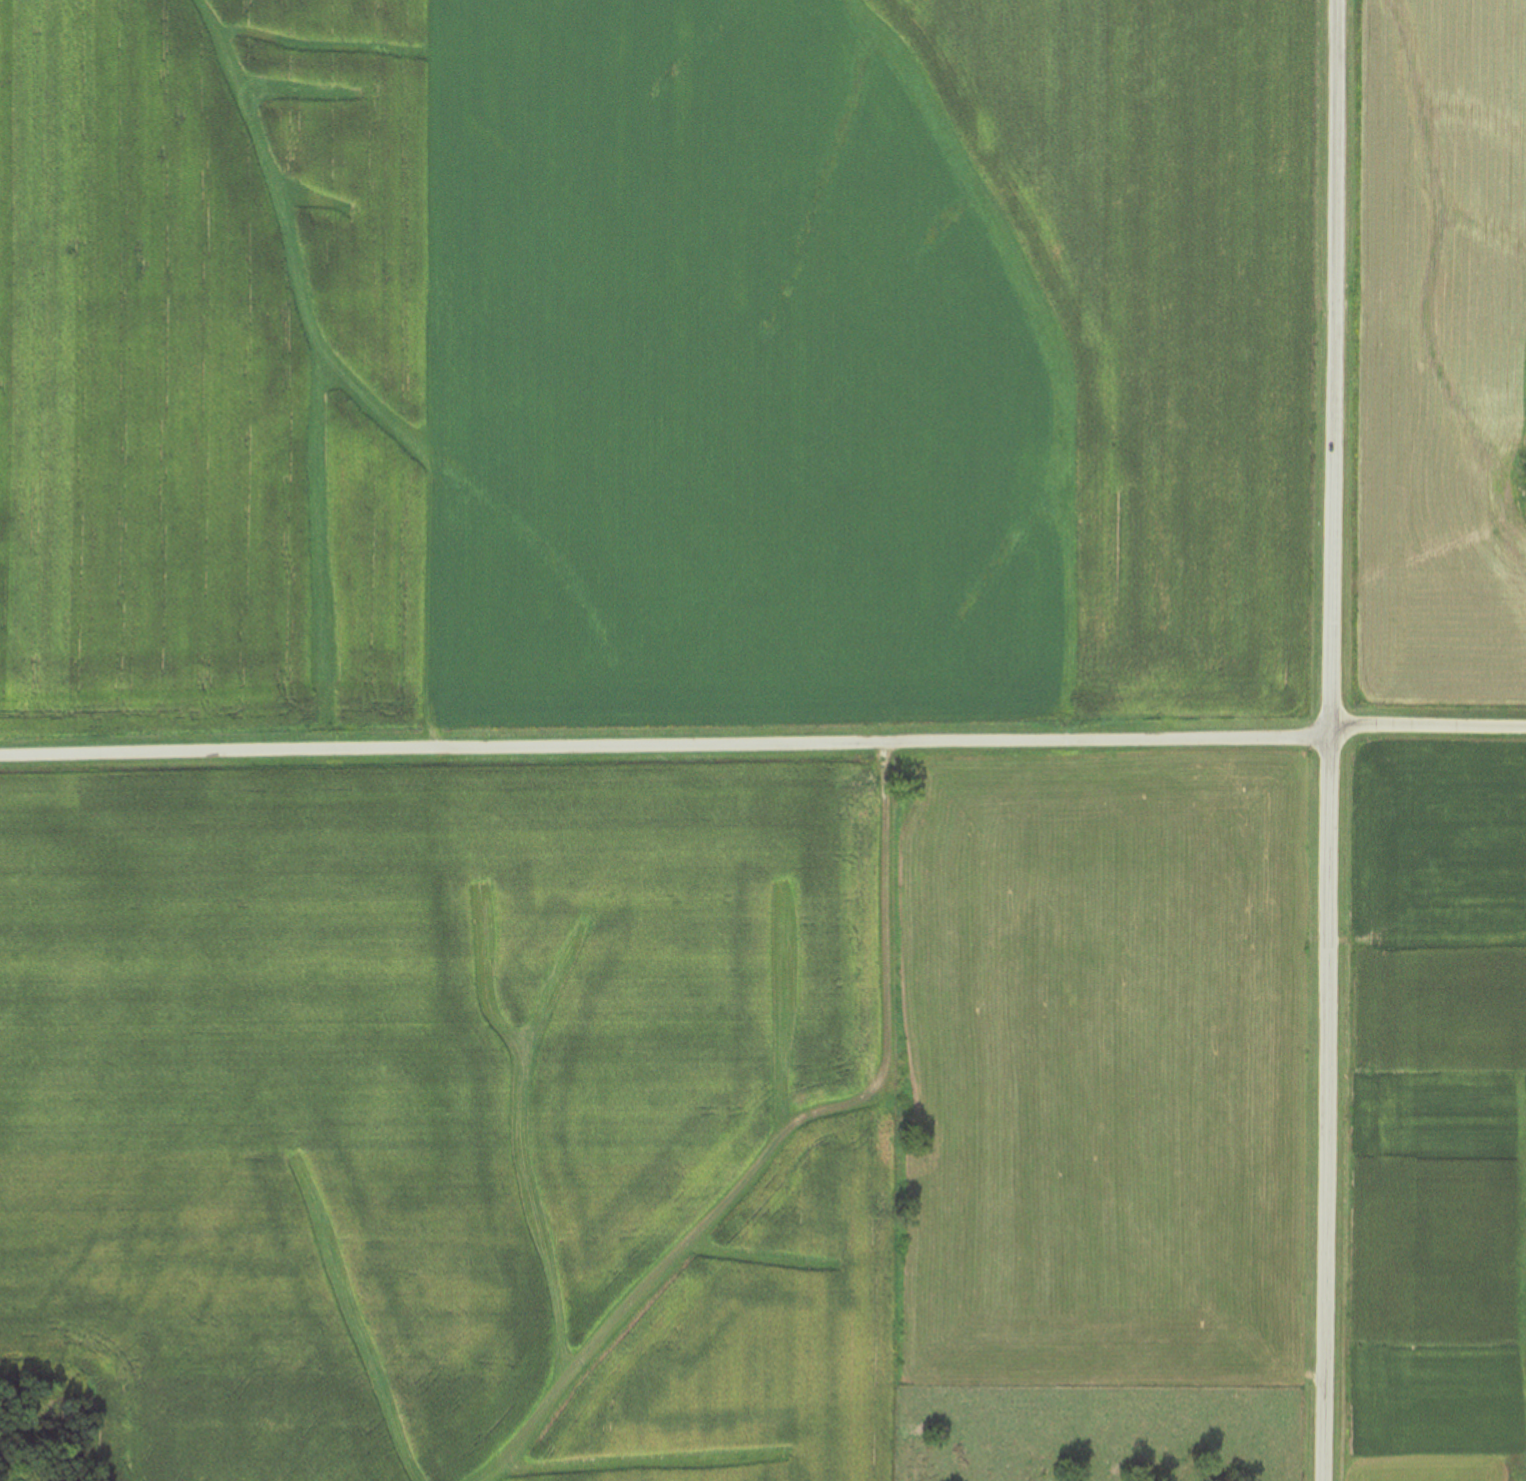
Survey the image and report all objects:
road: (1427, 726)
road: (1327, 740)
road: (663, 746)

